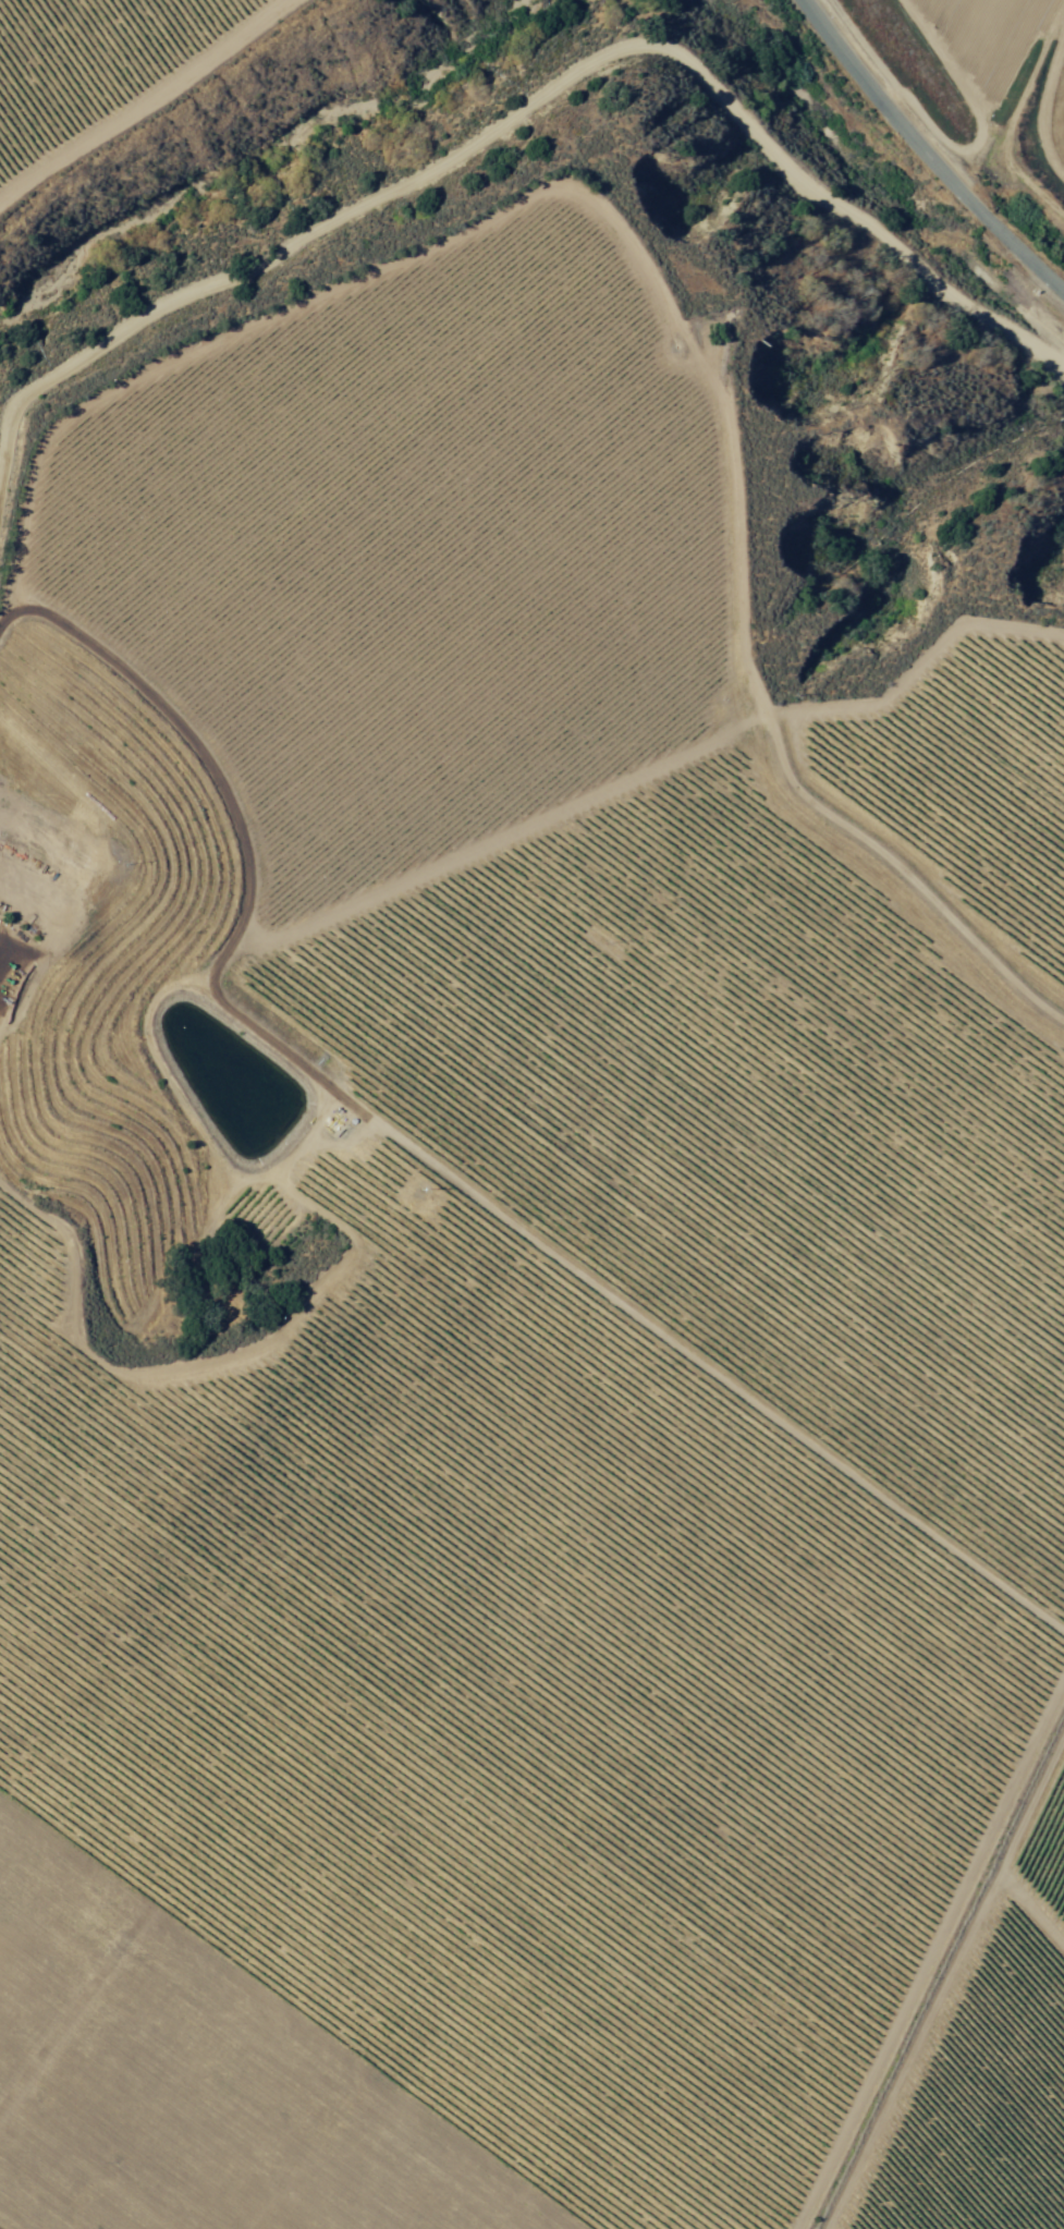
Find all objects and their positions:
crop: (94, 54)
road: (924, 153)
crop: (517, 1300)

